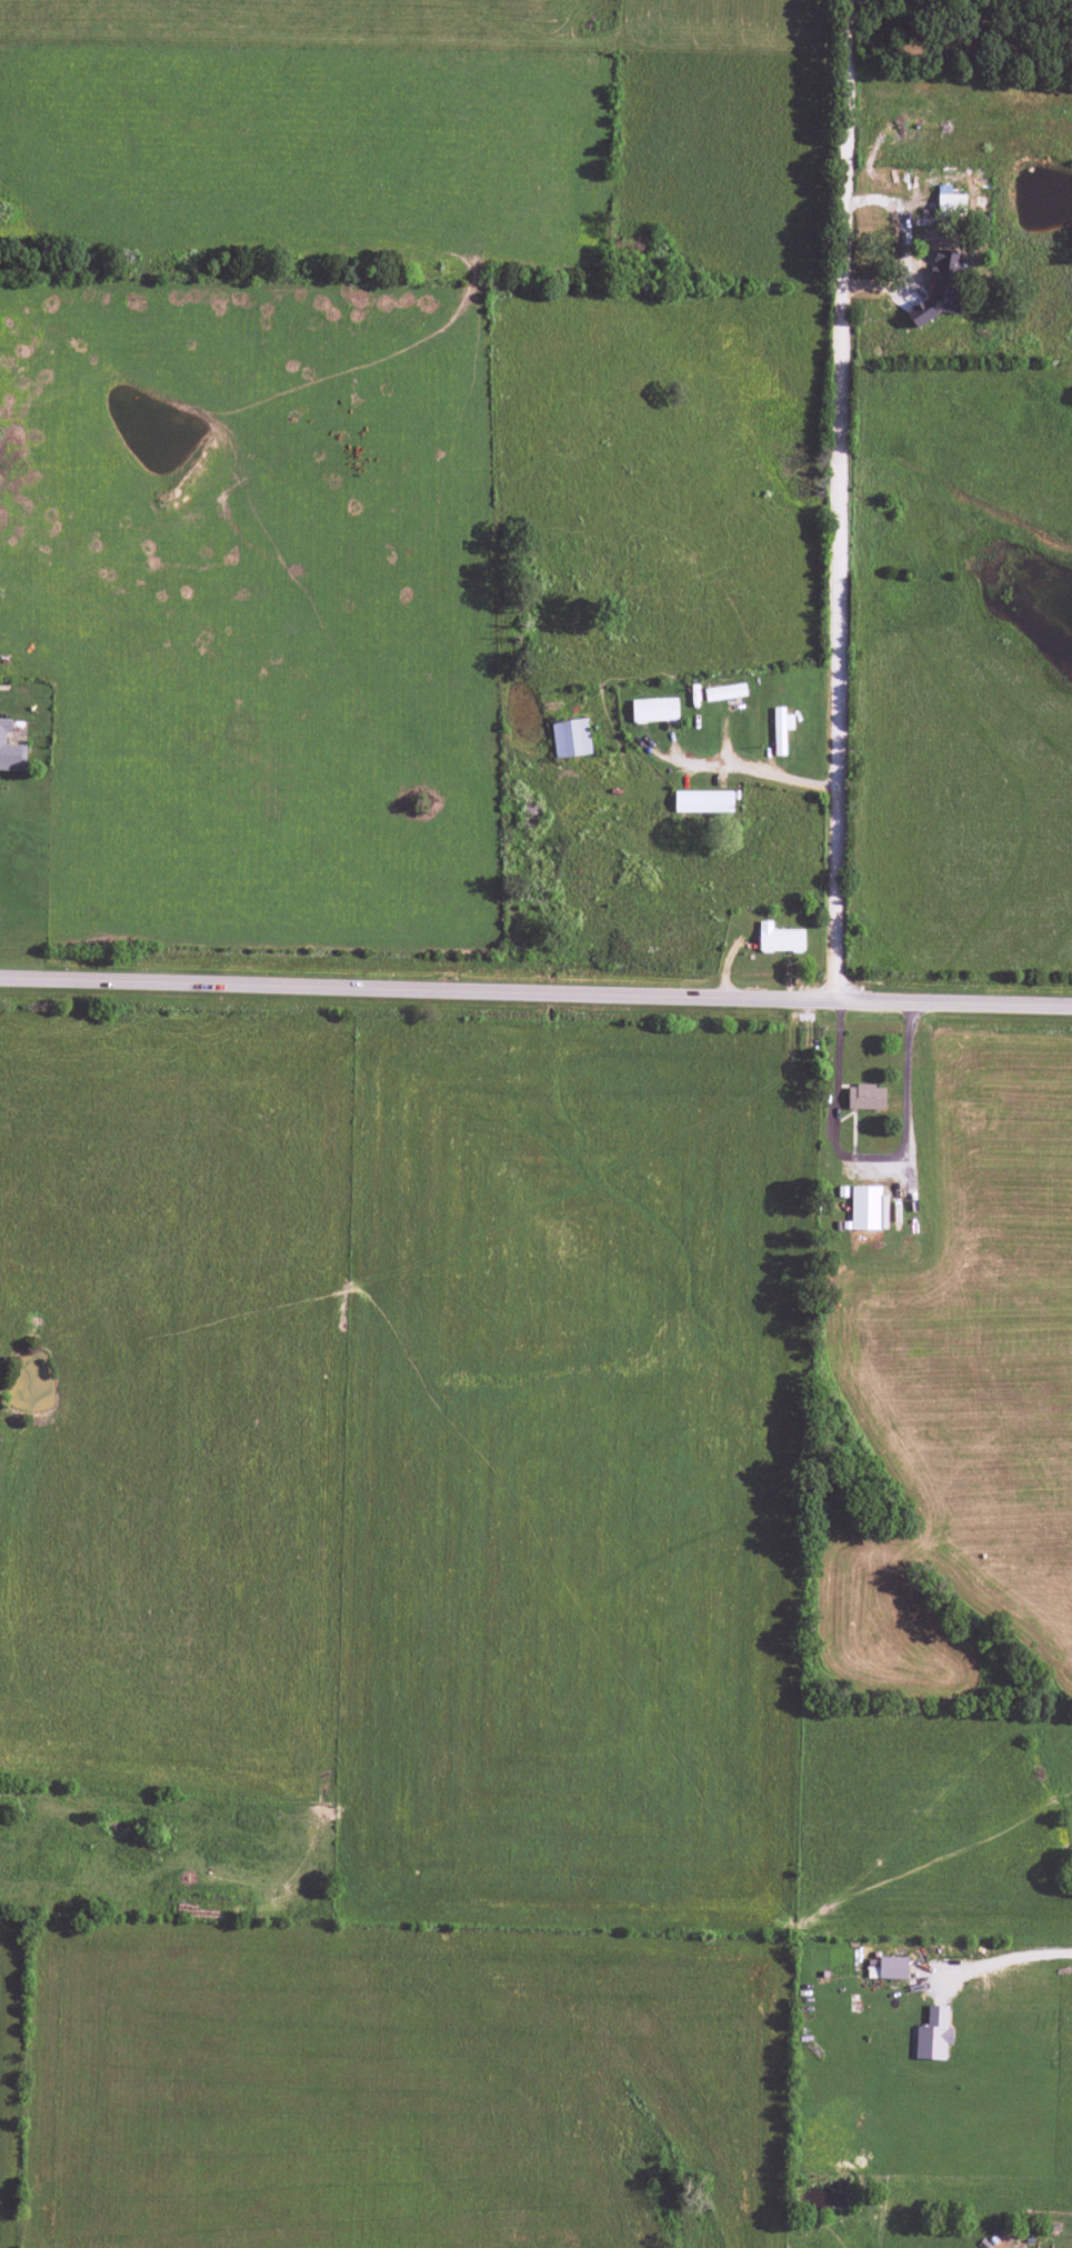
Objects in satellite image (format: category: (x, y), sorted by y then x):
building: (950, 201)
building: (936, 293)
road: (843, 498)
road: (637, 620)
building: (724, 691)
building: (654, 710)
building: (781, 729)
building: (571, 738)
building: (10, 750)
road: (755, 771)
building: (703, 801)
building: (780, 939)
road: (535, 988)
building: (865, 1097)
road: (868, 1158)
building: (868, 1208)
road: (1009, 1958)
building: (886, 1968)
building: (933, 2035)

